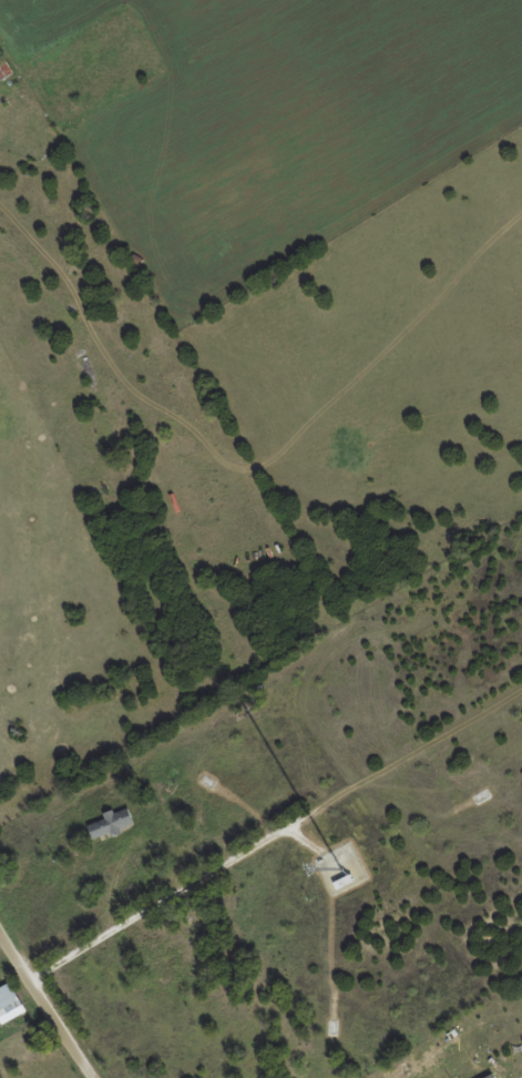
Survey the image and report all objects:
building: (3, 70)
building: (105, 824)
building: (339, 884)
building: (6, 999)
road: (45, 1006)

